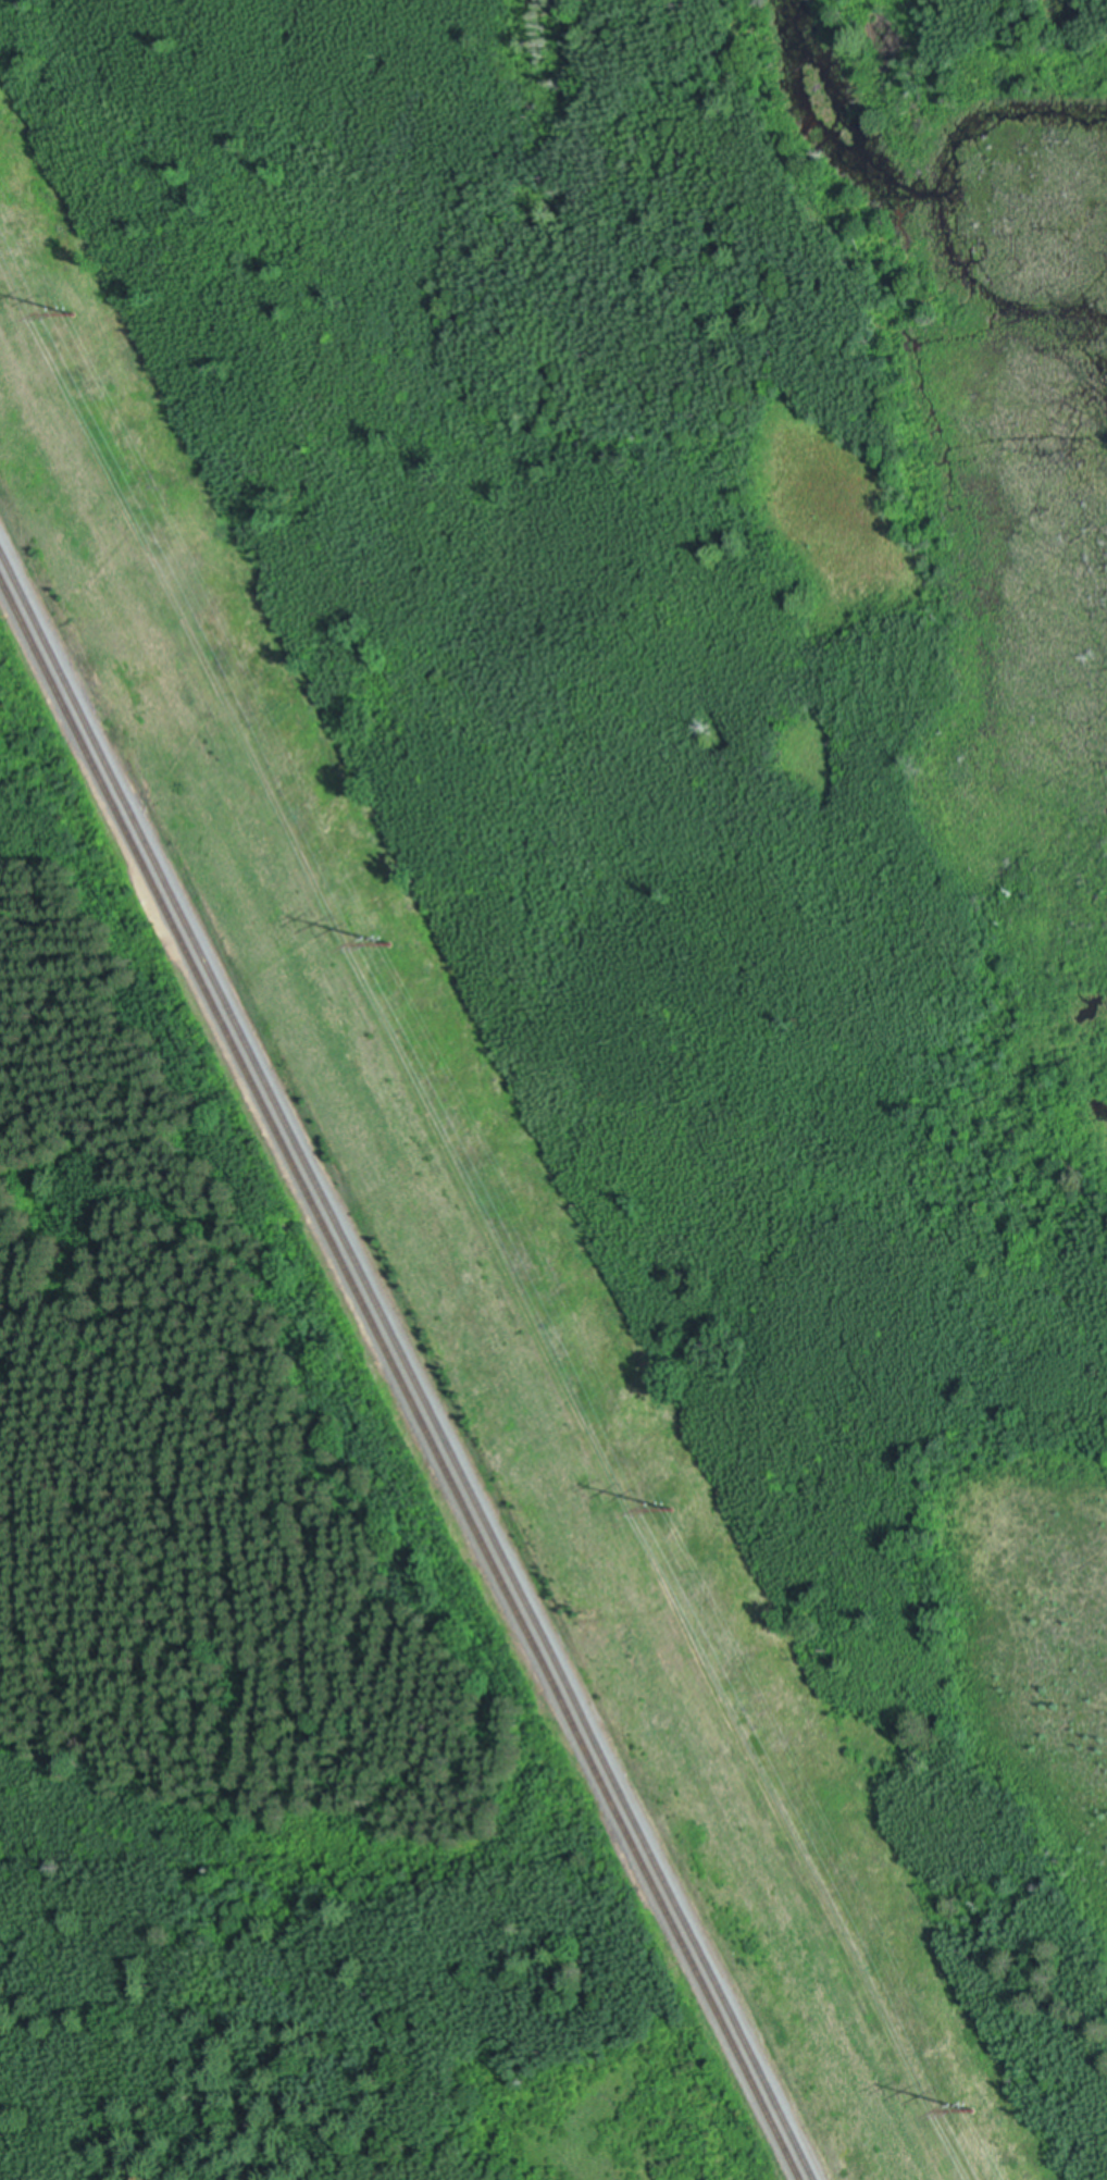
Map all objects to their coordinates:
power tower: (76, 315)
power tower: (391, 946)
railway: (408, 1364)
railway: (398, 1383)
power tower: (670, 1512)
power tower: (974, 2114)

